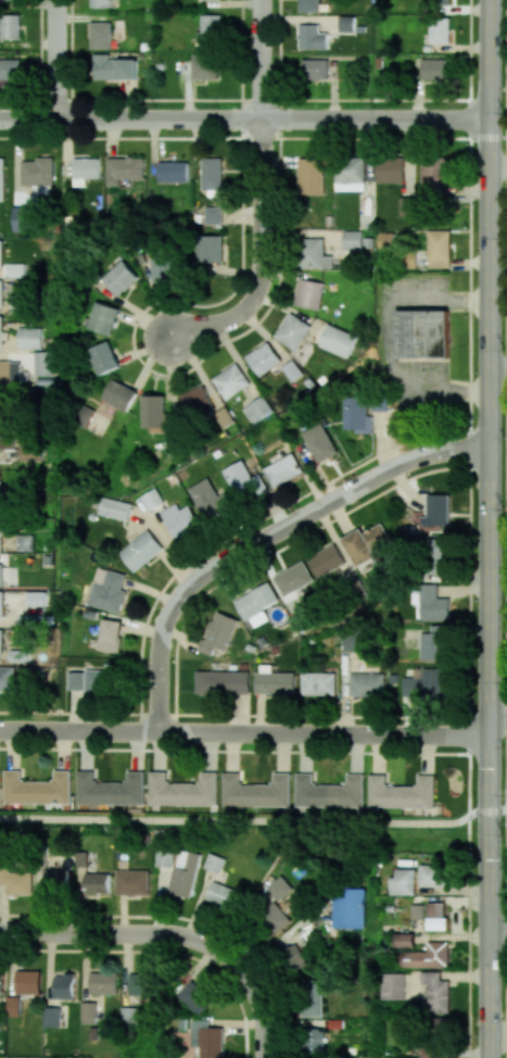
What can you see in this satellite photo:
building: (439, 2)
building: (100, 3)
building: (308, 5)
building: (346, 24)
building: (10, 26)
building: (211, 26)
building: (439, 29)
building: (100, 35)
building: (313, 37)
road: (470, 48)
road: (280, 49)
road: (258, 59)
road: (54, 60)
building: (204, 65)
building: (113, 67)
building: (315, 68)
building: (433, 68)
building: (9, 71)
road: (506, 78)
road: (220, 99)
road: (241, 108)
road: (244, 119)
road: (197, 137)
road: (111, 138)
road: (235, 138)
road: (152, 139)
road: (66, 147)
road: (17, 154)
road: (506, 156)
road: (409, 158)
road: (279, 162)
road: (497, 165)
building: (123, 168)
building: (85, 169)
building: (391, 169)
building: (173, 172)
road: (369, 172)
building: (350, 173)
building: (37, 174)
building: (433, 174)
building: (211, 175)
building: (310, 175)
building: (1, 179)
road: (469, 191)
building: (20, 198)
building: (407, 205)
building: (213, 215)
road: (240, 217)
road: (301, 232)
building: (353, 240)
building: (439, 248)
building: (210, 249)
building: (313, 253)
building: (1, 254)
road: (259, 257)
road: (506, 257)
building: (408, 259)
building: (166, 267)
building: (15, 269)
road: (237, 270)
road: (3, 273)
road: (282, 273)
building: (121, 277)
building: (1, 292)
building: (308, 293)
building: (21, 302)
road: (156, 303)
road: (4, 308)
road: (135, 310)
road: (290, 310)
building: (103, 318)
road: (143, 325)
building: (292, 330)
building: (2, 331)
road: (265, 335)
building: (422, 335)
building: (29, 337)
building: (338, 341)
road: (388, 341)
road: (9, 347)
road: (142, 350)
parking lot: (389, 350)
road: (17, 357)
building: (103, 357)
building: (263, 357)
road: (238, 360)
building: (43, 363)
road: (147, 363)
road: (148, 367)
road: (198, 369)
building: (292, 370)
road: (498, 370)
building: (9, 373)
road: (169, 378)
building: (231, 381)
building: (119, 395)
building: (195, 402)
building: (379, 402)
building: (0, 410)
building: (256, 410)
building: (155, 413)
building: (357, 414)
building: (223, 416)
road: (506, 420)
building: (7, 437)
road: (381, 440)
building: (319, 442)
road: (395, 445)
road: (464, 448)
building: (30, 451)
road: (10, 453)
building: (282, 469)
road: (316, 473)
building: (243, 478)
road: (313, 489)
road: (404, 491)
building: (152, 499)
building: (211, 499)
building: (0, 502)
building: (115, 507)
road: (275, 508)
building: (438, 511)
road: (460, 514)
road: (342, 516)
building: (179, 521)
road: (152, 526)
road: (469, 527)
road: (490, 528)
road: (239, 529)
building: (1, 532)
road: (265, 537)
building: (25, 542)
building: (366, 542)
road: (170, 545)
road: (338, 545)
road: (9, 549)
building: (140, 550)
building: (439, 555)
road: (267, 557)
road: (5, 559)
building: (326, 559)
building: (1, 575)
road: (458, 577)
building: (293, 578)
road: (228, 580)
building: (107, 590)
road: (150, 590)
road: (462, 590)
building: (37, 597)
building: (256, 599)
building: (433, 603)
building: (2, 604)
road: (11, 608)
road: (506, 610)
building: (33, 619)
road: (15, 624)
road: (142, 628)
building: (219, 632)
road: (181, 634)
building: (110, 635)
road: (470, 638)
building: (352, 639)
building: (1, 642)
building: (435, 642)
building: (21, 655)
road: (4, 657)
building: (8, 678)
building: (75, 680)
building: (100, 681)
building: (221, 681)
building: (274, 681)
building: (318, 682)
building: (367, 683)
building: (430, 683)
road: (506, 691)
road: (346, 693)
road: (338, 708)
road: (75, 709)
road: (236, 713)
road: (258, 713)
road: (87, 714)
road: (413, 716)
road: (497, 726)
road: (244, 732)
road: (235, 750)
road: (468, 766)
building: (37, 789)
building: (110, 789)
building: (183, 790)
building: (256, 791)
building: (329, 792)
building: (402, 793)
road: (497, 808)
traffic signals: (490, 811)
road: (246, 821)
building: (164, 857)
building: (80, 858)
building: (214, 862)
building: (185, 872)
building: (433, 874)
building: (16, 879)
building: (56, 880)
building: (403, 881)
building: (97, 882)
building: (132, 882)
road: (259, 884)
building: (283, 892)
building: (221, 895)
building: (348, 907)
building: (418, 911)
building: (274, 917)
building: (436, 917)
road: (106, 929)
road: (497, 937)
building: (405, 940)
building: (427, 956)
building: (294, 957)
building: (0, 981)
building: (27, 981)
building: (103, 982)
building: (139, 983)
building: (392, 985)
building: (63, 987)
road: (255, 991)
building: (436, 992)
building: (195, 996)
building: (310, 997)
building: (13, 1006)
building: (88, 1012)
building: (129, 1016)
building: (51, 1017)
building: (206, 1038)
building: (313, 1041)

